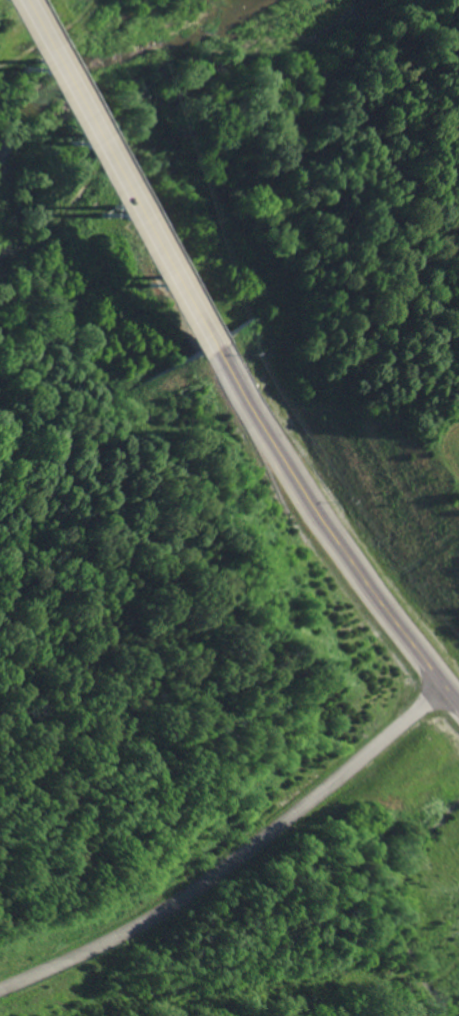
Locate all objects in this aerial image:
road: (115, 173)
road: (330, 519)
road: (240, 853)

